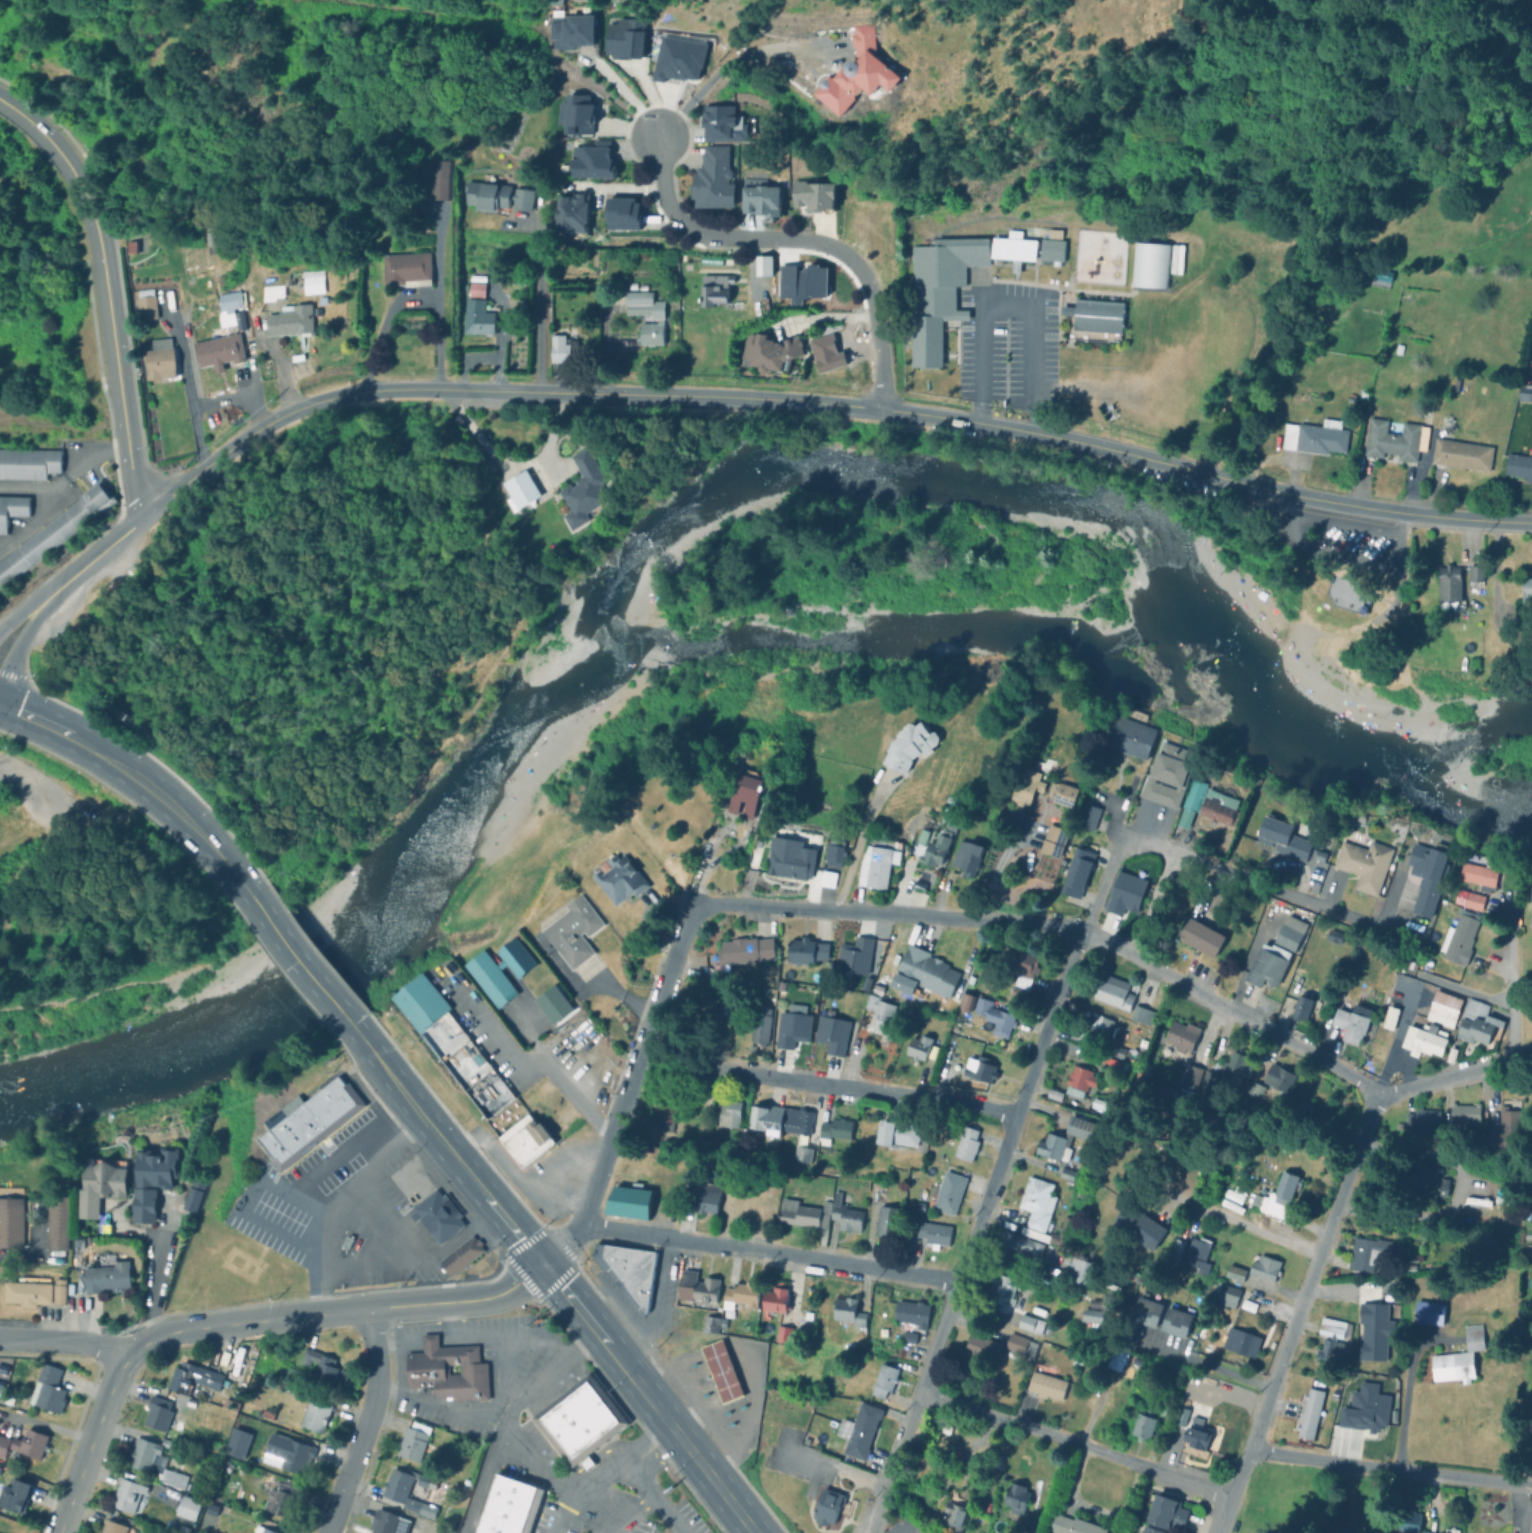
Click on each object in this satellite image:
building: (624, 37)
building: (678, 58)
road: (725, 64)
building: (857, 73)
building: (576, 113)
building: (591, 160)
road: (67, 161)
building: (713, 178)
building: (439, 180)
building: (485, 195)
building: (814, 195)
building: (522, 198)
building: (761, 199)
building: (571, 213)
building: (623, 213)
road: (678, 217)
building: (1054, 233)
building: (1016, 244)
building: (1051, 249)
building: (763, 264)
building: (1148, 264)
building: (405, 267)
building: (1380, 274)
building: (1380, 280)
building: (312, 281)
road: (866, 281)
building: (715, 288)
building: (475, 289)
building: (272, 291)
building: (939, 292)
road: (537, 299)
building: (145, 305)
road: (1010, 311)
building: (646, 315)
building: (1097, 315)
building: (477, 317)
building: (290, 320)
building: (221, 337)
building: (561, 348)
building: (769, 351)
building: (160, 359)
road: (118, 382)
building: (1524, 392)
road: (850, 403)
building: (1313, 437)
building: (1393, 439)
building: (1460, 454)
building: (29, 463)
building: (1518, 466)
road: (65, 473)
building: (520, 489)
building: (583, 489)
river: (699, 498)
building: (12, 509)
road: (1345, 523)
building: (58, 531)
road: (1344, 554)
road: (88, 561)
road: (1348, 566)
building: (1474, 574)
building: (1447, 582)
building: (1526, 589)
road: (1370, 592)
road: (1397, 594)
park: (1325, 609)
building: (1127, 733)
building: (907, 745)
road: (123, 770)
building: (1165, 774)
building: (1032, 775)
building: (741, 793)
building: (1060, 793)
park: (664, 797)
building: (1205, 803)
building: (1085, 816)
road: (719, 833)
building: (1052, 835)
building: (921, 836)
building: (1280, 837)
road: (856, 846)
building: (934, 846)
building: (832, 851)
building: (1317, 855)
building: (964, 856)
building: (787, 858)
building: (875, 861)
road: (1204, 863)
building: (1362, 864)
building: (1477, 868)
building: (1074, 872)
building: (1426, 875)
building: (617, 878)
building: (825, 878)
building: (1123, 893)
building: (1470, 900)
building: (1530, 902)
building: (568, 929)
building: (1288, 933)
building: (1198, 936)
building: (1458, 937)
building: (802, 950)
building: (739, 951)
building: (858, 955)
road: (1129, 956)
road: (296, 959)
building: (1265, 965)
building: (924, 970)
building: (499, 971)
building: (1015, 971)
building: (874, 989)
building: (1112, 991)
road: (1512, 995)
building: (963, 1001)
building: (1295, 1006)
park: (35, 1009)
building: (1441, 1009)
building: (903, 1011)
building: (878, 1014)
building: (1139, 1014)
building: (992, 1016)
building: (1387, 1017)
building: (1475, 1021)
building: (1349, 1022)
building: (1095, 1024)
building: (757, 1025)
building: (790, 1029)
building: (832, 1033)
building: (1179, 1036)
building: (1422, 1040)
building: (916, 1047)
building: (453, 1048)
building: (1113, 1051)
building: (1107, 1058)
building: (944, 1062)
building: (1236, 1065)
road: (528, 1068)
building: (977, 1069)
building: (1188, 1076)
building: (1078, 1077)
building: (1276, 1077)
building: (1206, 1080)
road: (829, 1084)
building: (1253, 1089)
road: (627, 1092)
building: (1067, 1100)
building: (1096, 1104)
building: (661, 1106)
building: (1463, 1113)
building: (726, 1114)
building: (777, 1118)
building: (1420, 1120)
building: (305, 1122)
building: (1505, 1125)
building: (833, 1130)
building: (897, 1132)
building: (526, 1138)
building: (1062, 1138)
building: (1268, 1138)
building: (964, 1143)
building: (800, 1153)
building: (1064, 1173)
building: (154, 1180)
road: (261, 1180)
building: (1423, 1183)
building: (100, 1184)
building: (875, 1189)
building: (944, 1192)
building: (193, 1194)
building: (424, 1195)
building: (1276, 1195)
building: (705, 1197)
road: (312, 1200)
building: (626, 1200)
building: (737, 1202)
building: (1035, 1203)
road: (334, 1209)
building: (801, 1213)
building: (843, 1213)
road: (981, 1214)
building: (11, 1217)
building: (884, 1221)
building: (56, 1223)
building: (1136, 1225)
road: (395, 1226)
building: (830, 1226)
road: (1256, 1227)
building: (1049, 1232)
building: (931, 1234)
building: (77, 1243)
building: (1019, 1244)
building: (1174, 1249)
road: (17, 1253)
road: (769, 1253)
building: (1368, 1253)
building: (460, 1254)
building: (1196, 1254)
traffic signals: (539, 1264)
building: (1263, 1267)
building: (1077, 1268)
road: (156, 1270)
building: (631, 1272)
building: (1233, 1272)
building: (106, 1274)
building: (694, 1286)
building: (1000, 1288)
building: (28, 1291)
building: (59, 1291)
road: (561, 1292)
building: (1111, 1292)
road: (1305, 1292)
building: (1227, 1293)
building: (738, 1294)
building: (772, 1298)
road: (459, 1303)
building: (1094, 1303)
building: (1246, 1305)
building: (846, 1310)
building: (1143, 1311)
building: (909, 1312)
building: (1426, 1312)
building: (1089, 1316)
building: (1174, 1319)
building: (1028, 1323)
road: (243, 1324)
building: (709, 1324)
building: (1374, 1330)
building: (781, 1333)
road: (429, 1337)
road: (445, 1337)
building: (906, 1337)
building: (1471, 1337)
road: (394, 1339)
building: (1237, 1340)
building: (1330, 1341)
road: (64, 1343)
building: (1018, 1345)
building: (835, 1347)
building: (977, 1351)
building: (1115, 1357)
road: (1205, 1363)
building: (320, 1365)
building: (1451, 1366)
building: (447, 1367)
building: (342, 1371)
building: (721, 1372)
building: (192, 1377)
building: (881, 1379)
building: (1044, 1381)
building: (47, 1389)
road: (496, 1389)
road: (1405, 1392)
building: (6, 1399)
building: (1365, 1407)
building: (1162, 1408)
building: (1308, 1412)
building: (156, 1413)
building: (316, 1413)
building: (266, 1415)
building: (1179, 1415)
road: (506, 1418)
building: (579, 1421)
road: (363, 1423)
building: (1141, 1424)
building: (941, 1428)
building: (857, 1430)
building: (1196, 1437)
building: (411, 1440)
road: (1073, 1440)
building: (30, 1443)
building: (239, 1443)
building: (3, 1445)
road: (91, 1446)
building: (1530, 1446)
building: (287, 1453)
building: (147, 1454)
road: (533, 1466)
road: (1389, 1467)
road: (841, 1469)
road: (600, 1470)
building: (172, 1479)
building: (404, 1489)
road: (652, 1493)
building: (14, 1495)
building: (128, 1496)
building: (1013, 1498)
building: (282, 1500)
building: (828, 1504)
building: (186, 1507)
building: (508, 1508)
building: (211, 1509)
building: (1162, 1512)
road: (1222, 1512)
road: (629, 1514)
road: (875, 1514)
building: (951, 1516)
parking lot: (614, 1517)
building: (445, 1518)
building: (1408, 1521)
building: (385, 1522)
building: (207, 1524)
building: (1071, 1525)
building: (114, 1528)
building: (183, 1529)
building: (1145, 1529)
building: (262, 1530)
building: (1449, 1530)
building: (98, 1532)
building: (1424, 1532)

